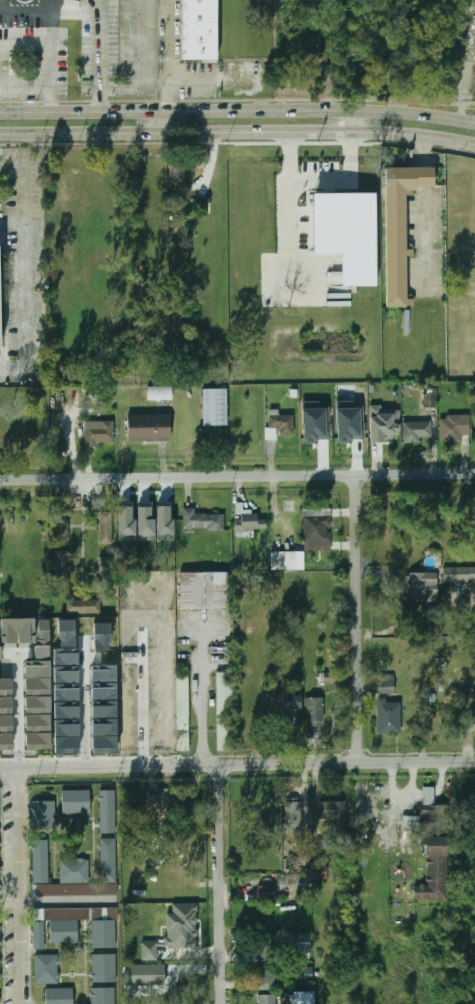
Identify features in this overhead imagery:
road: (54, 21)
building: (200, 30)
road: (51, 50)
road: (103, 54)
road: (142, 63)
road: (176, 77)
street lamp: (133, 78)
road: (237, 106)
road: (162, 117)
road: (351, 118)
road: (237, 130)
road: (420, 150)
building: (177, 173)
road: (420, 177)
building: (422, 177)
road: (345, 180)
flagpole: (303, 200)
road: (292, 202)
building: (396, 233)
building: (348, 236)
road: (422, 236)
street lamp: (261, 279)
road: (28, 294)
street lamp: (325, 307)
street lamp: (274, 308)
building: (0, 342)
building: (160, 393)
building: (430, 400)
building: (215, 407)
building: (315, 423)
building: (349, 423)
building: (384, 424)
building: (280, 427)
building: (454, 428)
building: (417, 431)
building: (148, 432)
building: (100, 434)
road: (237, 476)
building: (158, 519)
building: (61, 521)
building: (203, 521)
building: (250, 521)
building: (145, 523)
building: (126, 524)
building: (105, 528)
building: (318, 529)
building: (283, 561)
building: (63, 568)
building: (105, 573)
building: (460, 575)
building: (422, 585)
building: (204, 590)
building: (83, 606)
road: (359, 618)
building: (26, 630)
building: (331, 666)
building: (37, 668)
building: (329, 677)
building: (37, 686)
building: (388, 686)
road: (202, 693)
building: (293, 702)
building: (6, 705)
road: (85, 705)
building: (183, 711)
building: (225, 711)
building: (315, 711)
building: (428, 715)
building: (390, 718)
building: (471, 719)
building: (6, 722)
road: (18, 727)
road: (237, 765)
building: (77, 802)
building: (430, 802)
building: (164, 806)
building: (333, 811)
building: (108, 813)
building: (44, 815)
building: (294, 816)
building: (411, 823)
building: (109, 860)
building: (41, 861)
building: (304, 864)
building: (321, 868)
building: (0, 872)
building: (434, 875)
building: (69, 881)
building: (302, 882)
road: (223, 884)
road: (19, 886)
building: (266, 893)
building: (59, 925)
building: (175, 931)
building: (104, 934)
building: (0, 936)
building: (266, 948)
building: (299, 949)
building: (104, 968)
building: (46, 969)
building: (0, 971)
building: (309, 974)
building: (141, 977)
building: (267, 977)
building: (58, 996)
building: (104, 996)
building: (302, 998)
building: (268, 999)

